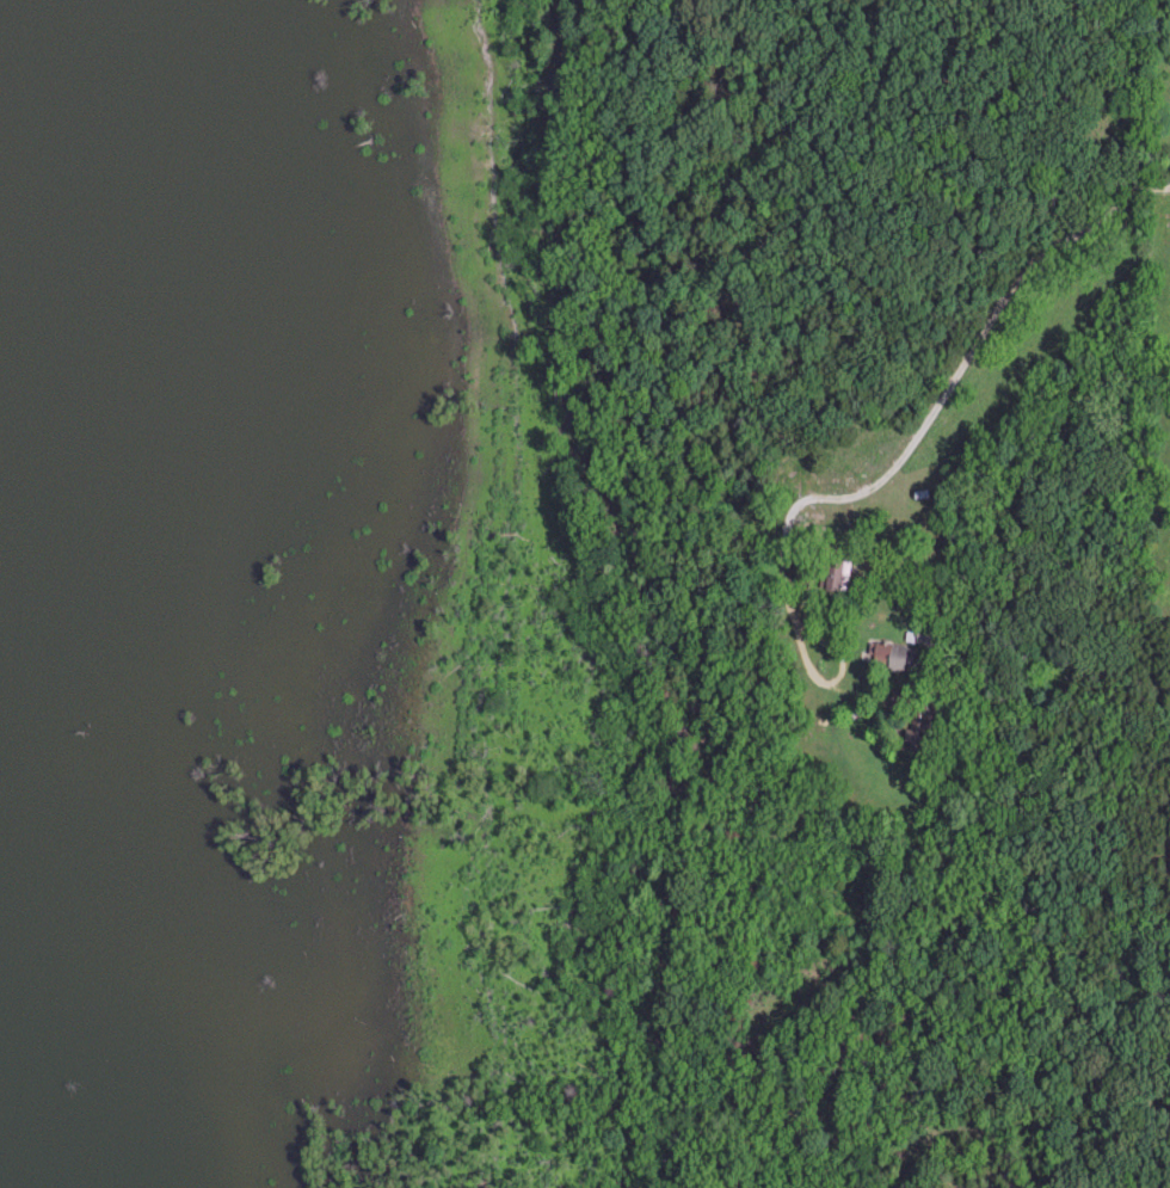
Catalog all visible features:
road: (925, 424)
building: (844, 578)
building: (891, 655)

